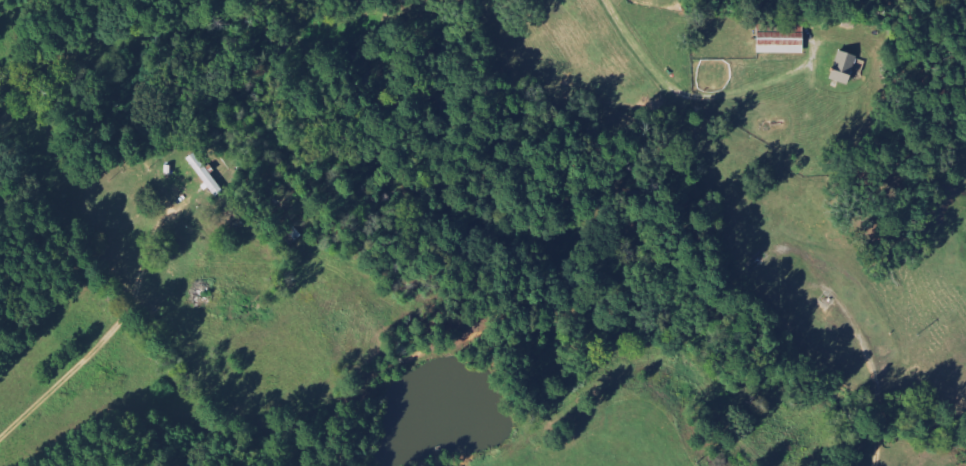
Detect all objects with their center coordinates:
building: (783, 41)
building: (845, 67)
building: (206, 174)

